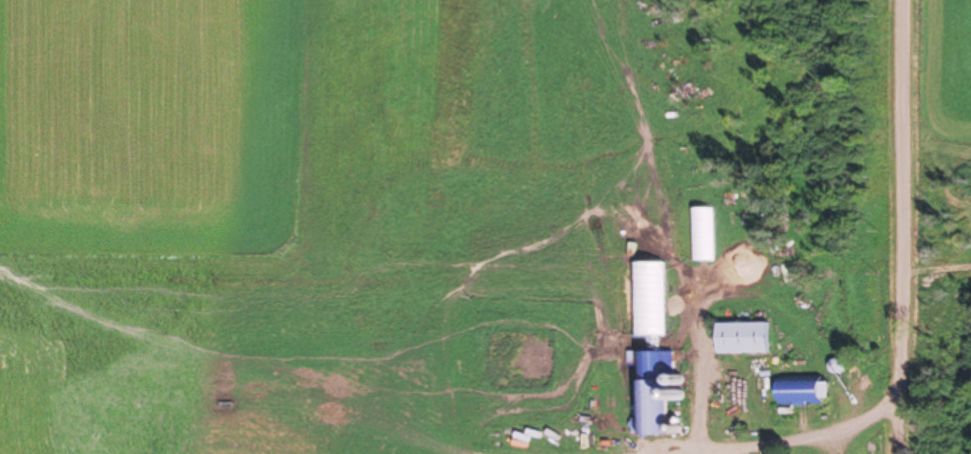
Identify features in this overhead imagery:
road: (920, 234)
building: (704, 236)
building: (648, 301)
building: (744, 340)
building: (650, 394)
building: (764, 394)
building: (804, 395)

